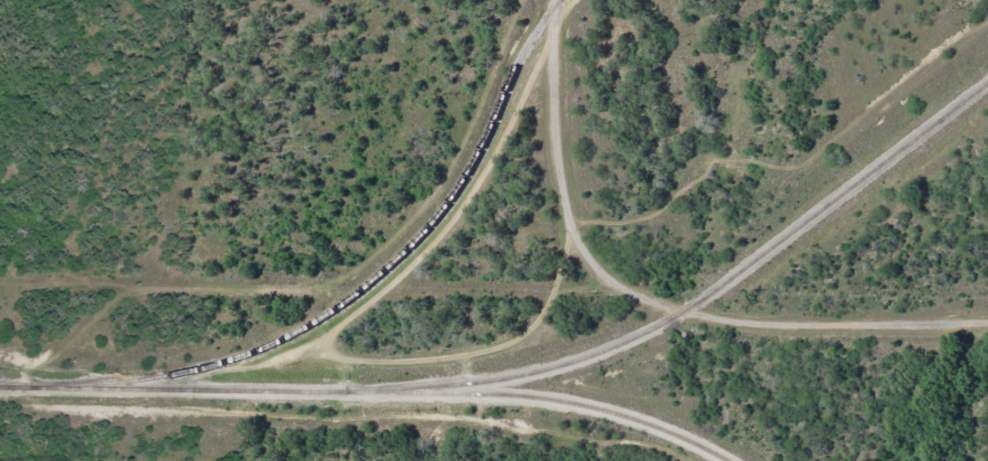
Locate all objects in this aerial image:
power plant: (494, 230)
railway: (388, 269)
railway: (705, 295)
road: (648, 301)
railway: (185, 389)
railway: (553, 400)

